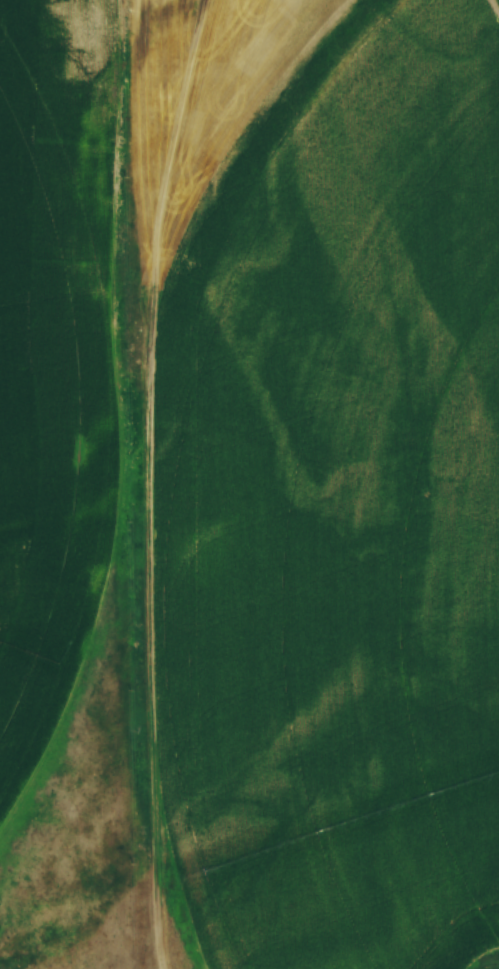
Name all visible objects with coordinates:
crop: (52, 370)
crop: (336, 503)

